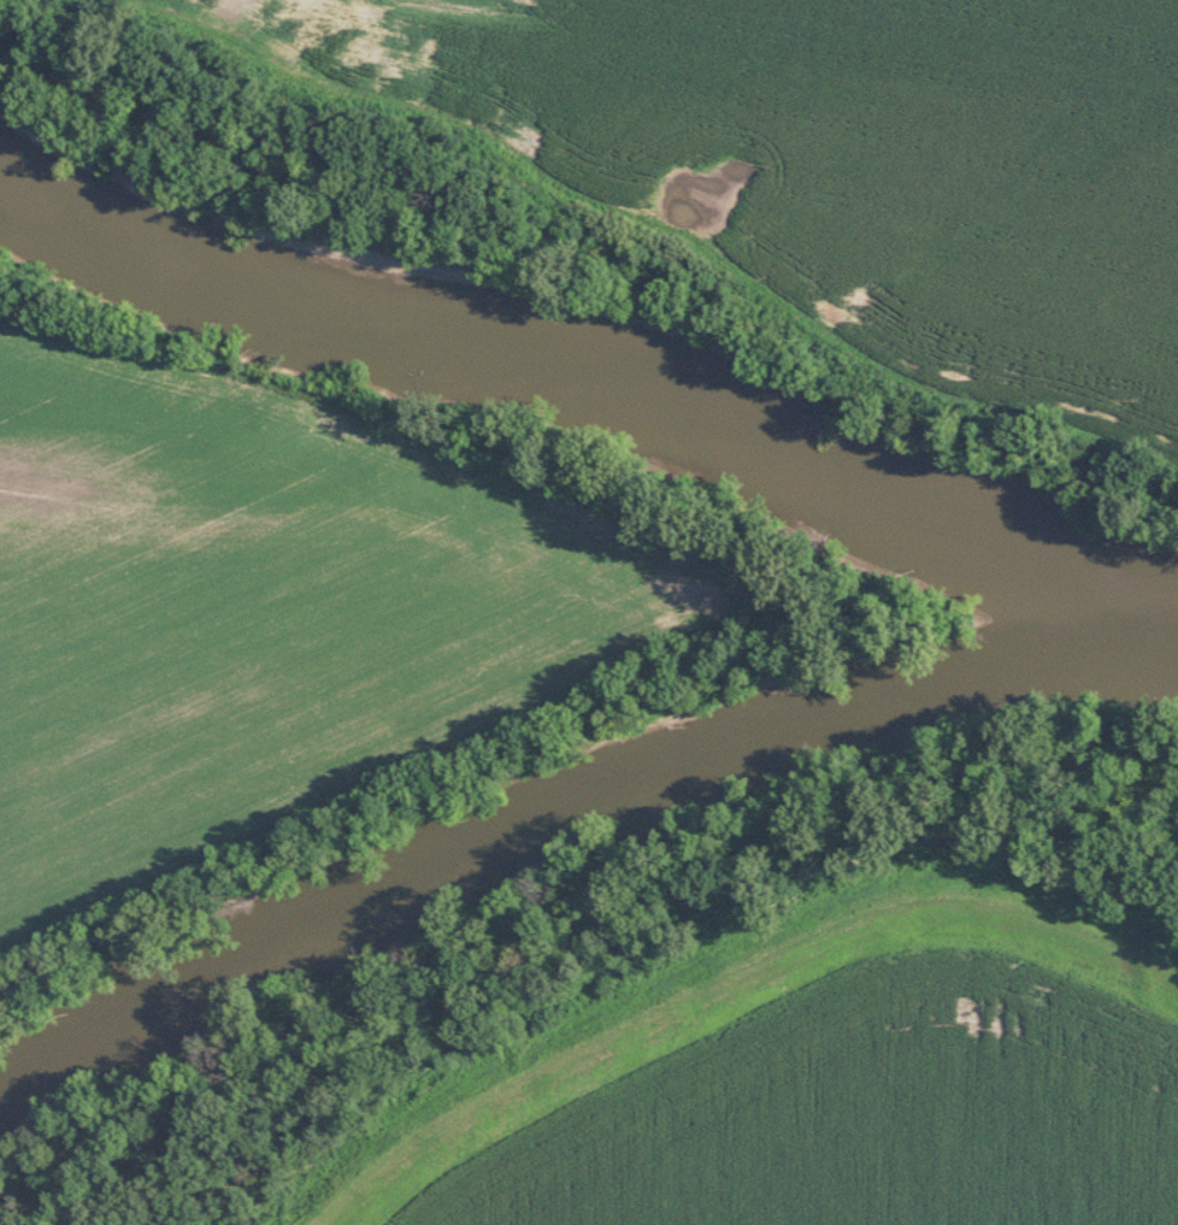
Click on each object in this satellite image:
river: (534, 346)
river: (1108, 589)
river: (518, 819)

